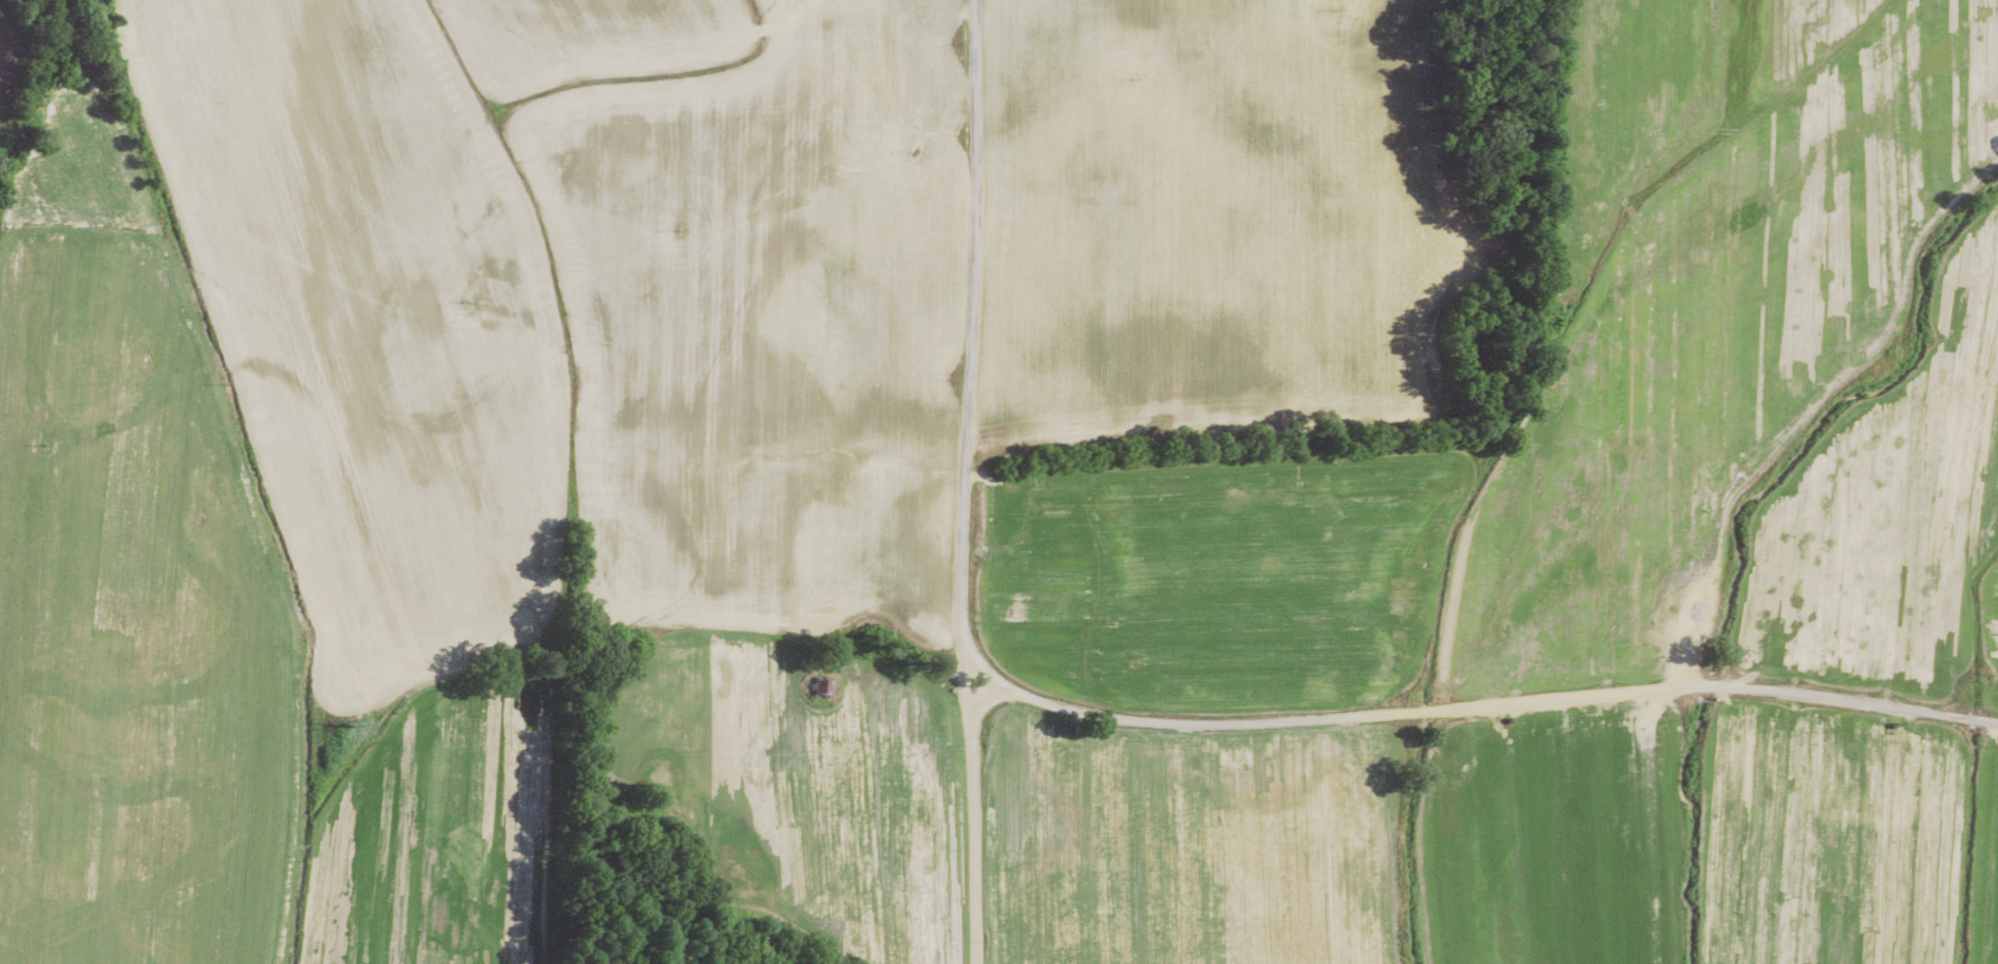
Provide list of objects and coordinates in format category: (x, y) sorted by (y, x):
road: (972, 341)
building: (821, 687)
road: (1481, 716)
road: (968, 823)

